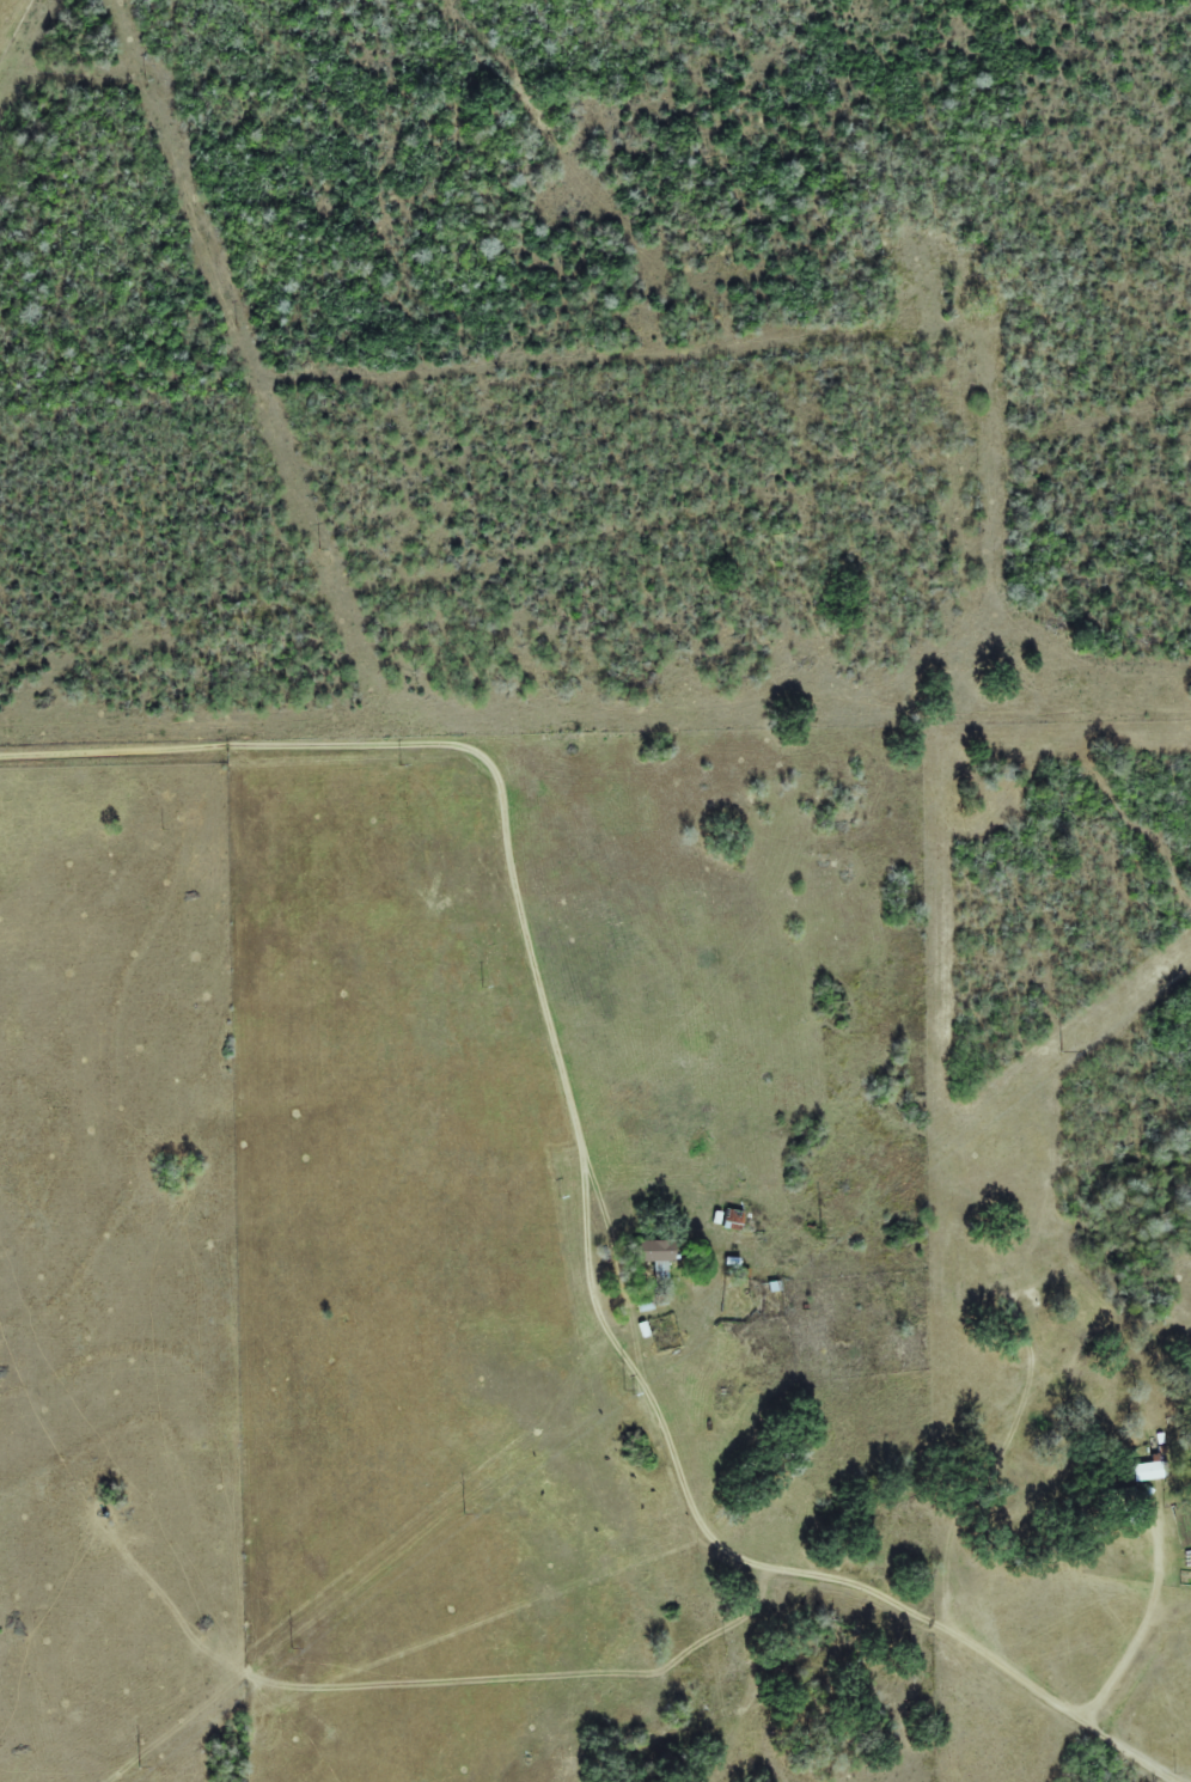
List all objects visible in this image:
road: (171, 38)
road: (729, 432)
building: (661, 1255)
building: (1149, 1471)

